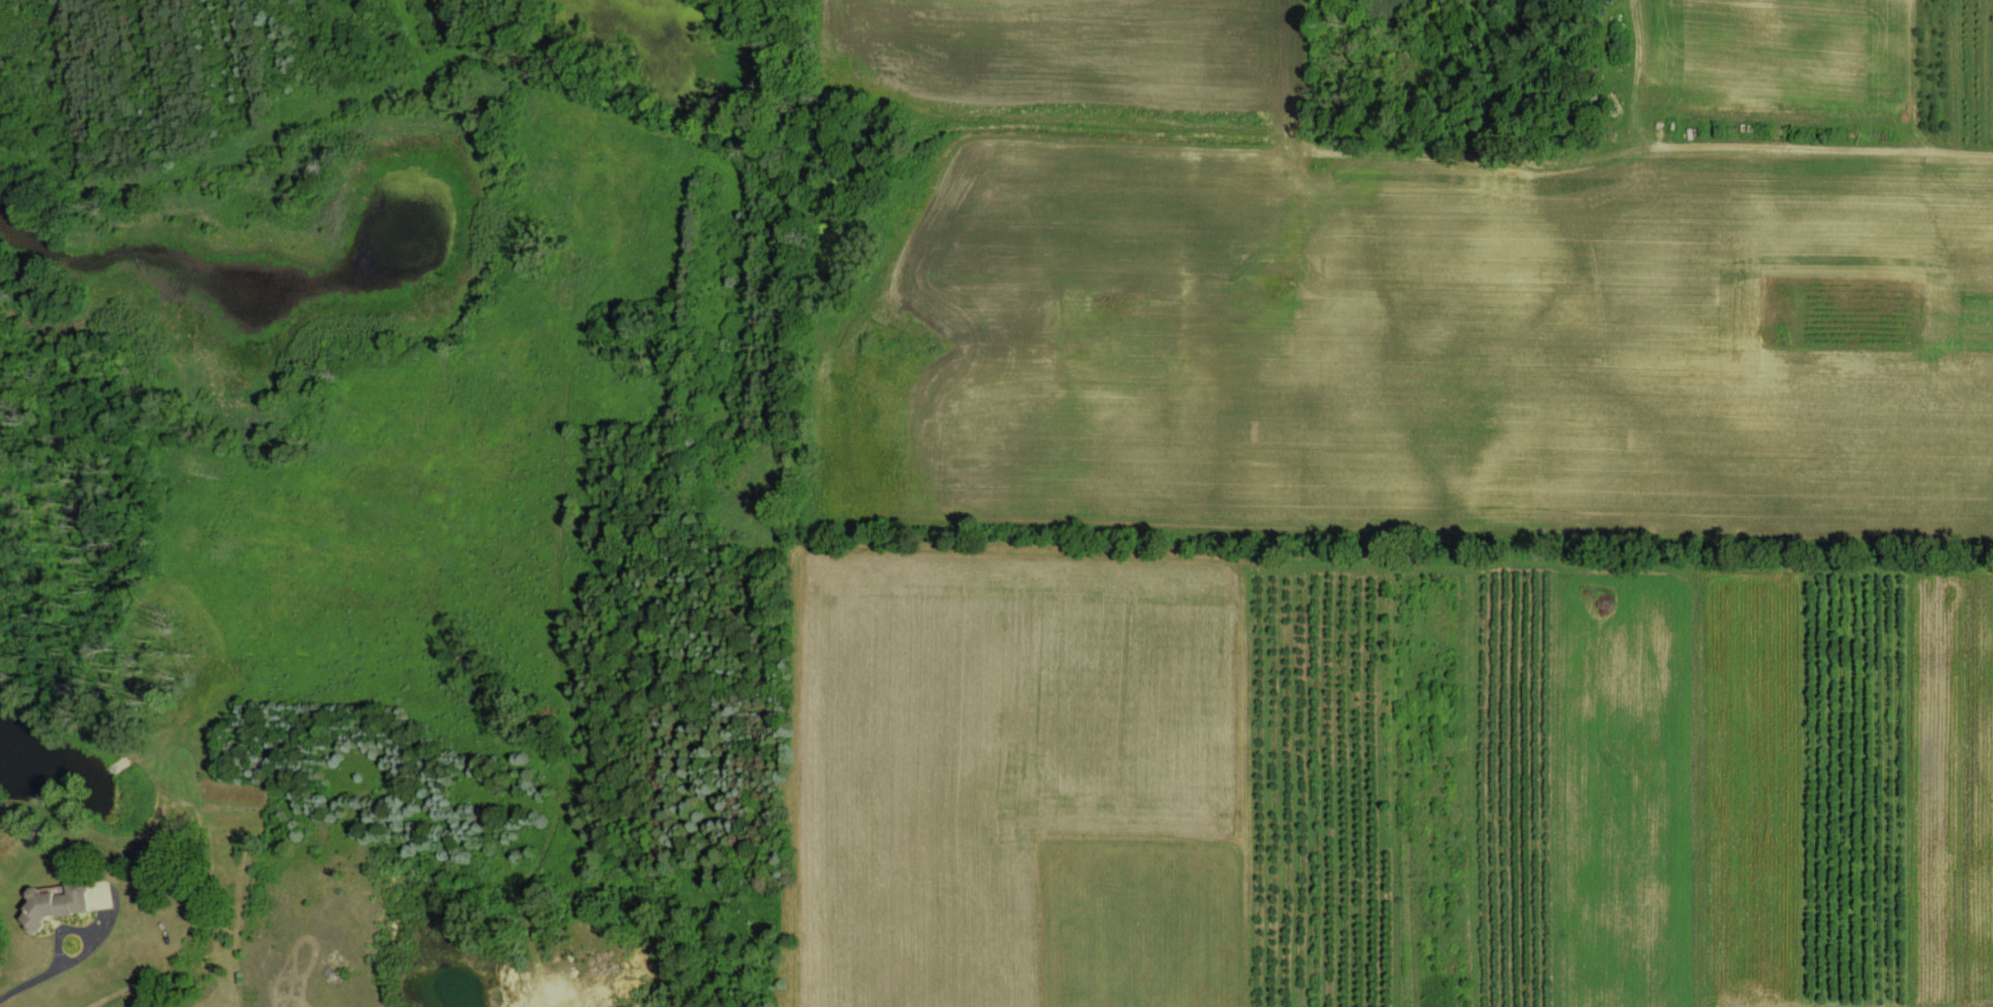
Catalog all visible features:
road: (41, 974)

